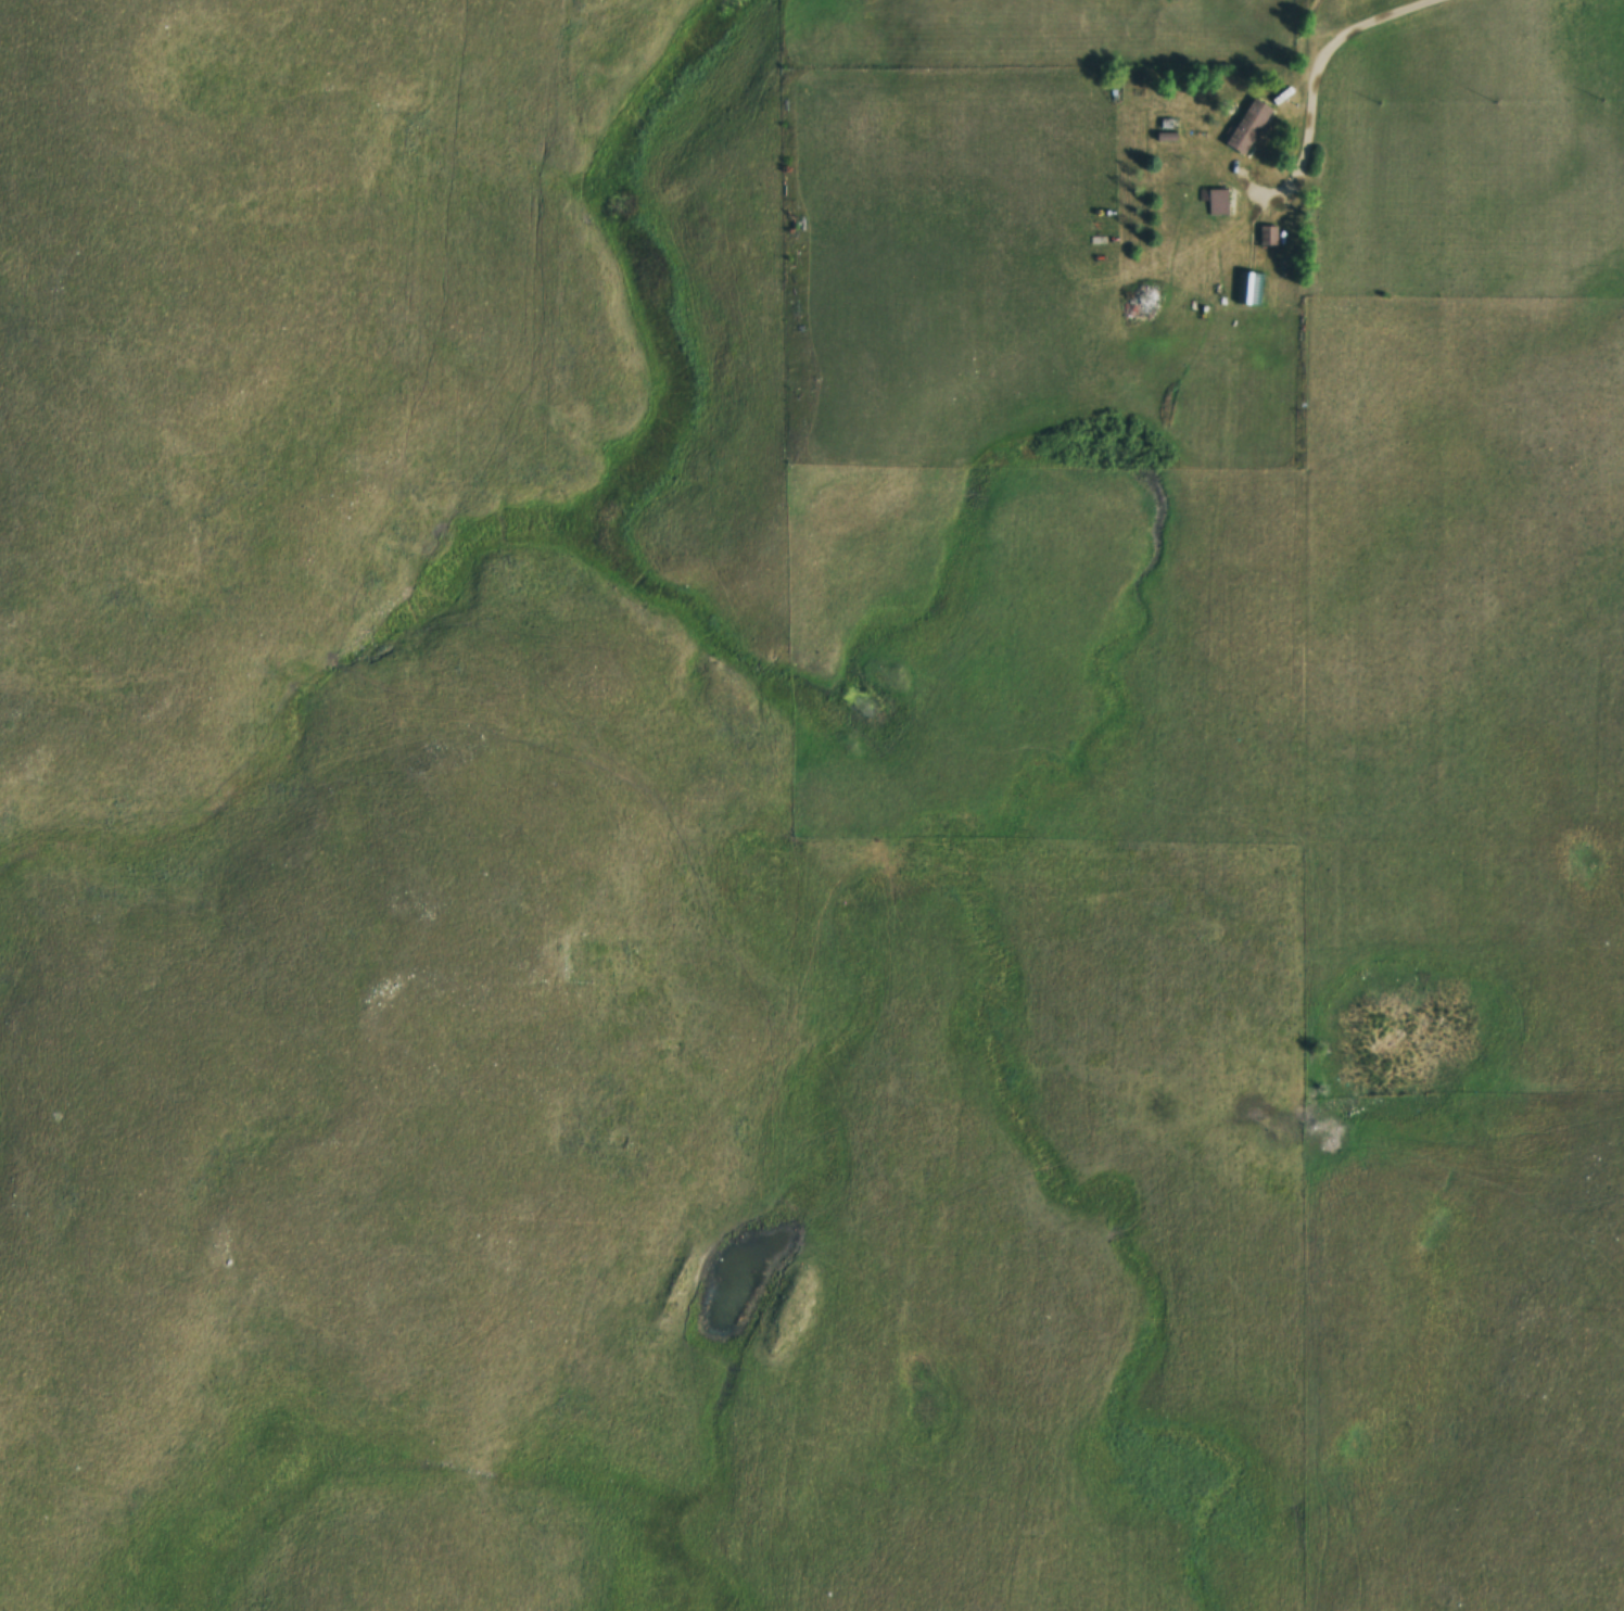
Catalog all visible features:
road: (1401, 22)
building: (1245, 127)
building: (1216, 203)
building: (1265, 236)

